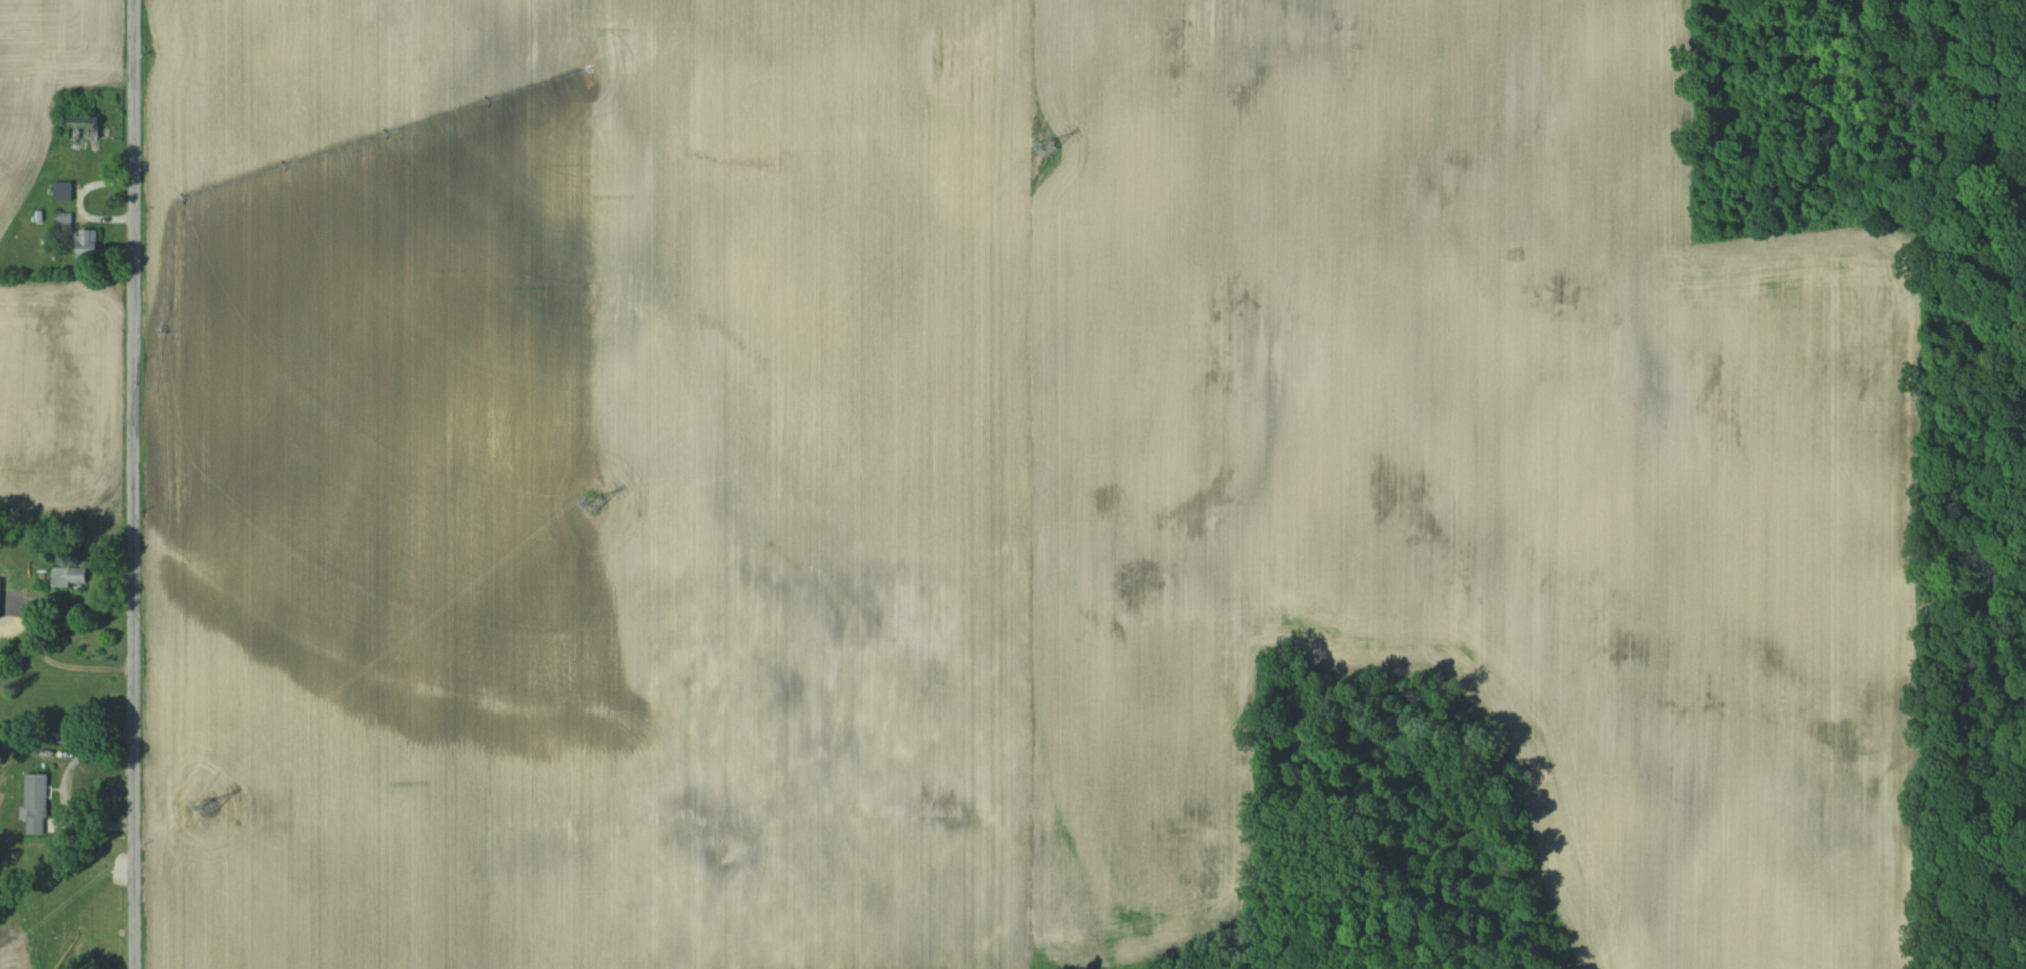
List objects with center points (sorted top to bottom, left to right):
building: (84, 127)
building: (61, 190)
building: (87, 243)
crop: (986, 432)
road: (131, 484)
building: (3, 572)
building: (68, 576)
building: (35, 803)
crop: (12, 955)

